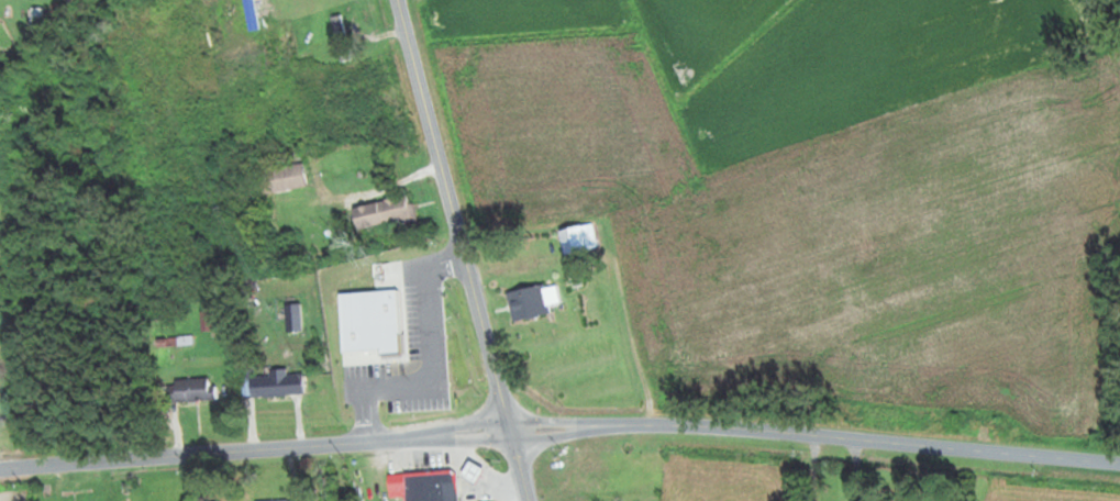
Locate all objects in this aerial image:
building: (237, 33)
road: (529, 48)
road: (280, 118)
building: (281, 178)
road: (674, 199)
building: (384, 213)
building: (577, 238)
road: (465, 249)
building: (279, 254)
building: (531, 300)
building: (206, 319)
building: (276, 383)
building: (189, 389)
road: (0, 416)
road: (816, 433)
road: (256, 448)
road: (189, 477)
building: (430, 486)
building: (275, 500)

